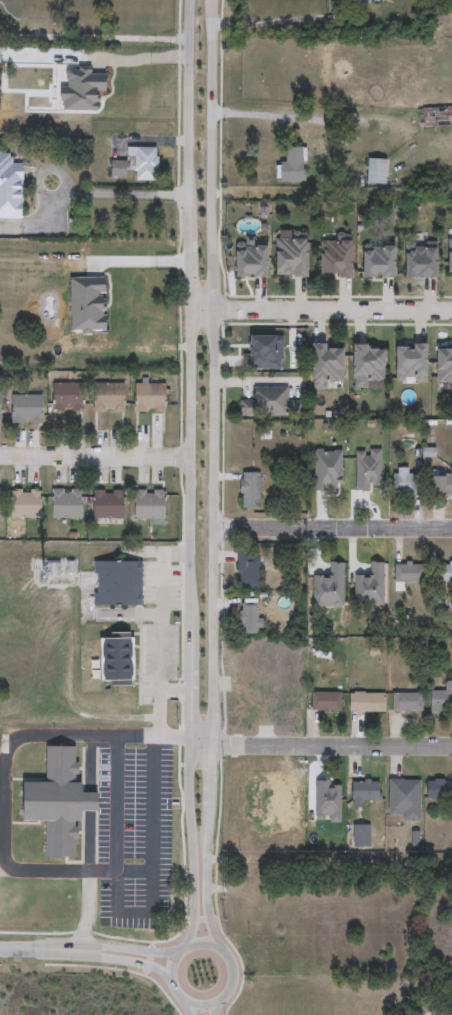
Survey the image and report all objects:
building: (450, 1)
building: (353, 3)
road: (272, 23)
road: (94, 38)
road: (124, 58)
road: (268, 115)
building: (437, 117)
building: (146, 164)
building: (291, 167)
building: (122, 168)
building: (375, 172)
building: (11, 188)
road: (85, 194)
building: (286, 255)
building: (333, 256)
building: (447, 259)
road: (142, 261)
building: (247, 261)
building: (417, 261)
building: (375, 262)
road: (320, 309)
building: (408, 363)
building: (364, 365)
building: (442, 365)
building: (323, 366)
building: (68, 397)
building: (108, 398)
building: (148, 399)
building: (263, 403)
building: (0, 407)
building: (27, 410)
road: (95, 456)
road: (189, 475)
road: (212, 475)
building: (400, 482)
building: (440, 483)
building: (248, 491)
building: (0, 505)
building: (26, 505)
building: (106, 505)
building: (66, 506)
building: (148, 507)
road: (332, 527)
building: (245, 570)
building: (327, 574)
building: (404, 574)
building: (443, 574)
building: (117, 585)
road: (162, 609)
building: (246, 619)
building: (121, 665)
building: (440, 699)
road: (160, 701)
building: (323, 701)
building: (364, 702)
building: (405, 702)
road: (319, 742)
building: (438, 790)
building: (362, 791)
road: (2, 793)
building: (402, 799)
building: (60, 800)
road: (89, 804)
road: (118, 804)
building: (359, 835)
road: (153, 838)
road: (107, 946)
road: (16, 948)
road: (106, 954)
road: (185, 999)
road: (186, 1005)
road: (216, 1007)
building: (445, 1010)

